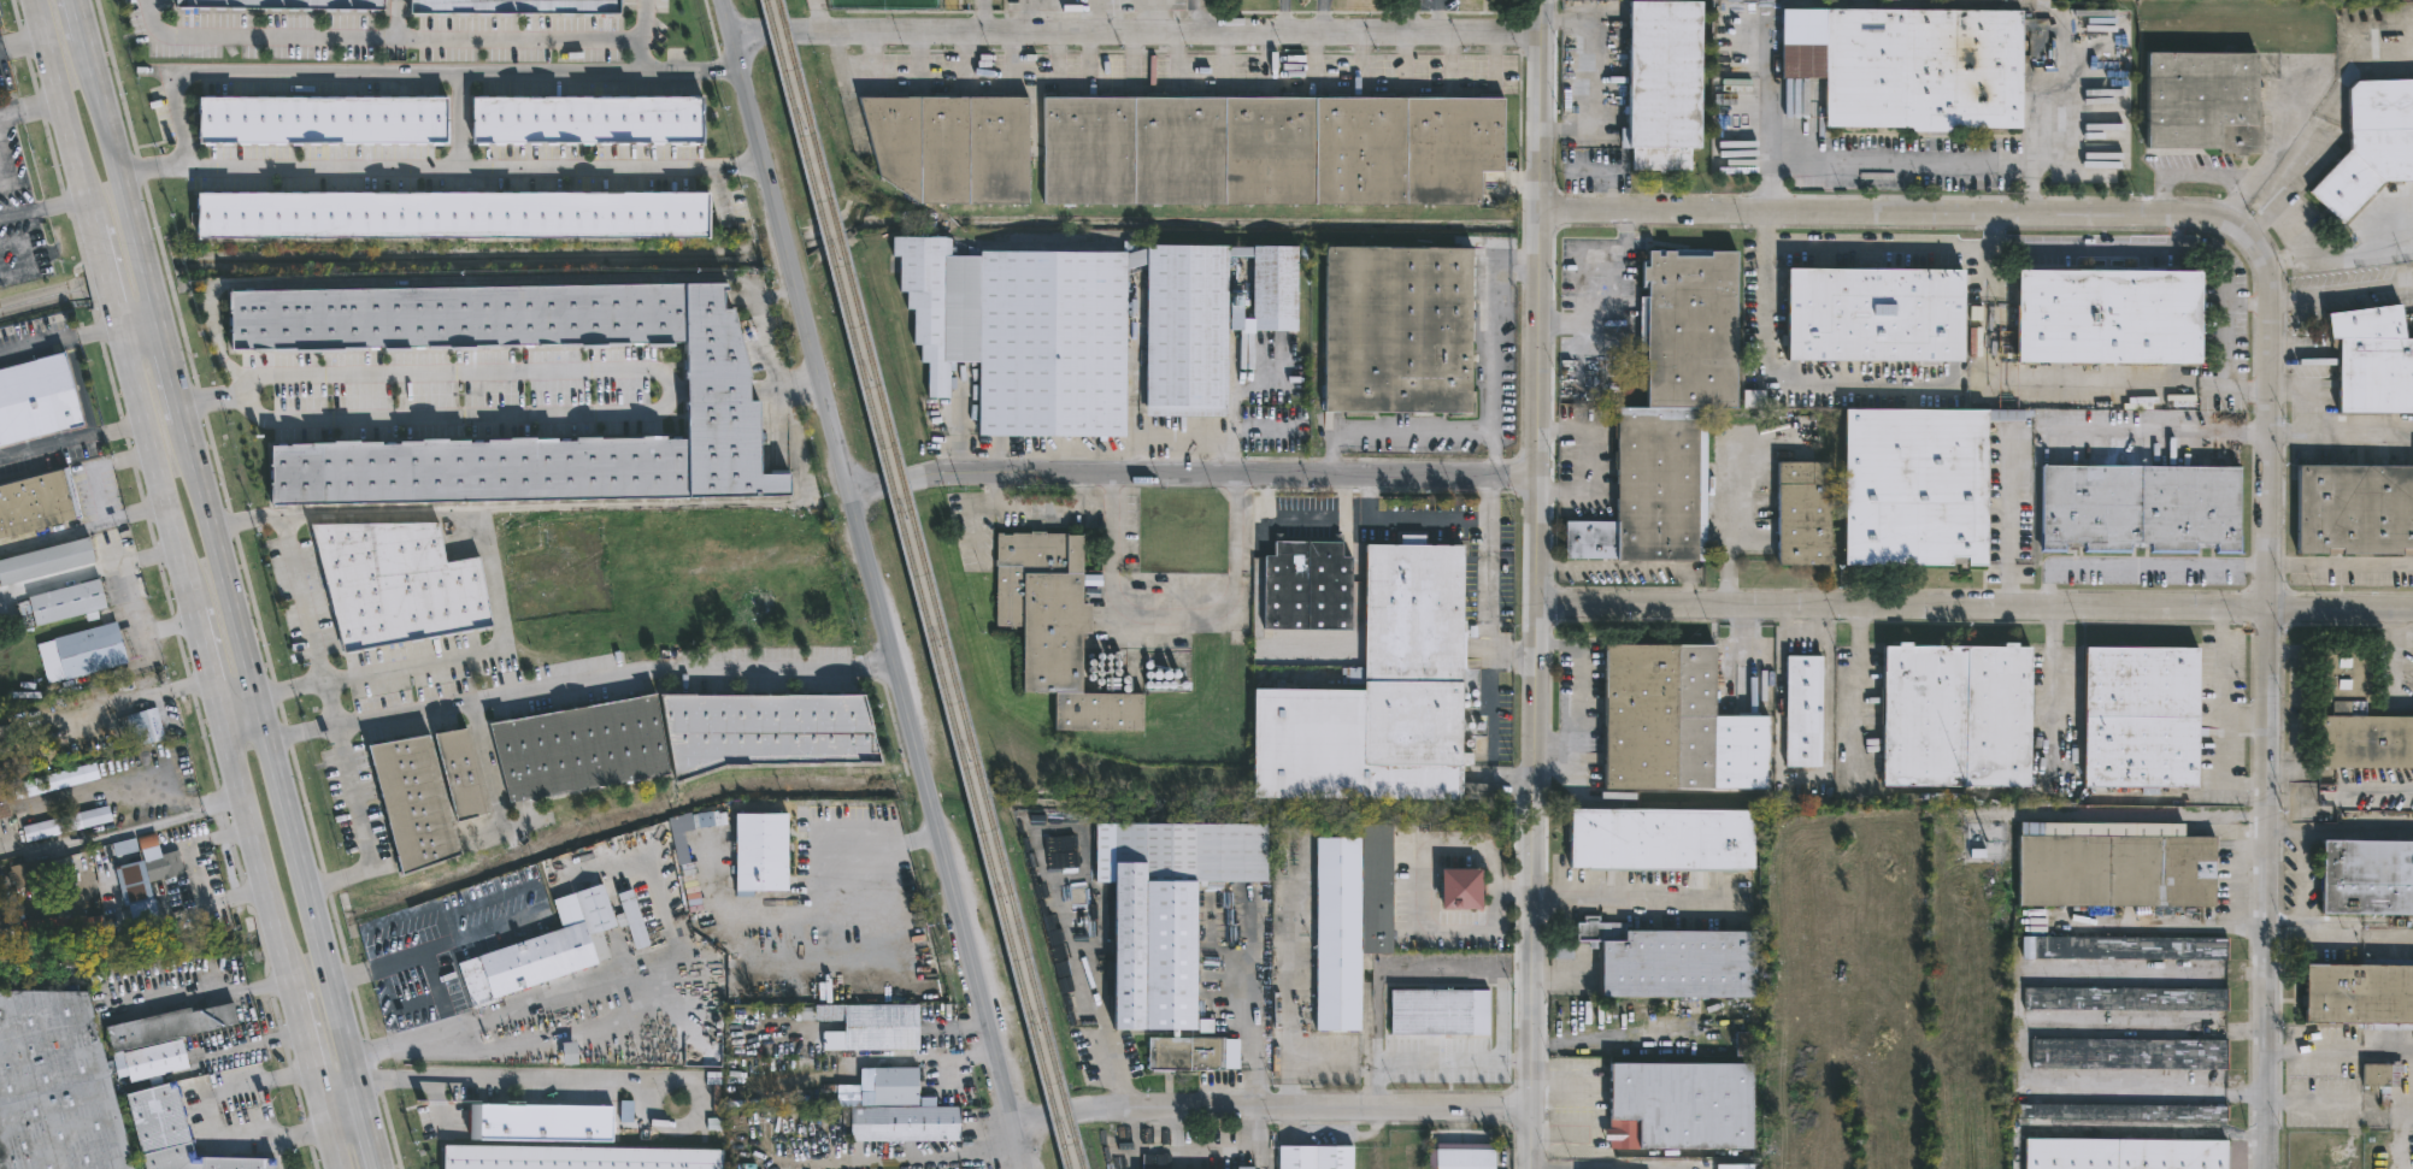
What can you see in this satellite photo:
park: (882, 2)
building: (287, 4)
building: (518, 6)
road: (817, 16)
road: (983, 16)
road: (1201, 17)
road: (1283, 17)
road: (1325, 18)
road: (1408, 18)
road: (1432, 18)
road: (80, 19)
road: (1138, 35)
road: (278, 37)
road: (518, 37)
road: (1132, 55)
road: (918, 57)
road: (1013, 57)
road: (1058, 57)
road: (1175, 57)
road: (1224, 57)
road: (967, 58)
road: (1088, 58)
road: (1266, 58)
road: (1314, 58)
road: (1360, 58)
road: (1405, 58)
road: (1493, 58)
road: (1452, 59)
building: (1912, 70)
road: (359, 72)
road: (689, 72)
road: (858, 83)
building: (1659, 87)
building: (2200, 102)
road: (30, 108)
road: (851, 112)
road: (63, 114)
building: (585, 117)
building: (320, 118)
building: (944, 144)
building: (2370, 144)
building: (1264, 148)
road: (1897, 164)
road: (475, 169)
road: (120, 177)
road: (42, 207)
building: (451, 214)
railway: (1142, 223)
road: (2293, 232)
road: (2101, 247)
road: (1896, 248)
road: (104, 278)
road: (475, 281)
building: (1868, 313)
building: (2105, 314)
road: (2225, 320)
road: (136, 321)
building: (1082, 326)
building: (1393, 329)
road: (1493, 329)
road: (58, 342)
road: (2268, 343)
building: (2372, 360)
road: (170, 367)
road: (458, 372)
road: (1778, 378)
road: (2131, 379)
building: (717, 385)
road: (749, 386)
road: (82, 388)
road: (2309, 395)
road: (211, 398)
building: (39, 400)
building: (1665, 412)
road: (459, 415)
road: (1411, 433)
road: (2341, 436)
road: (70, 441)
road: (1329, 455)
road: (1493, 455)
road: (1591, 464)
road: (152, 467)
road: (1194, 476)
building: (1913, 485)
road: (1078, 491)
road: (101, 496)
road: (1487, 498)
building: (40, 502)
road: (1035, 507)
building: (2138, 508)
building: (2353, 508)
building: (1799, 513)
road: (1728, 520)
road: (2009, 520)
road: (53, 533)
road: (483, 537)
road: (1487, 556)
building: (48, 561)
road: (2342, 562)
road: (1628, 568)
road: (2137, 571)
building: (394, 583)
road: (875, 584)
railway: (918, 584)
railway: (930, 584)
road: (1537, 584)
building: (1303, 586)
road: (300, 596)
building: (71, 602)
road: (1974, 606)
road: (1172, 616)
building: (1052, 631)
road: (200, 648)
building: (93, 651)
road: (1511, 655)
road: (2394, 665)
building: (1108, 672)
building: (1164, 679)
road: (579, 683)
road: (2054, 689)
building: (1373, 695)
road: (1856, 695)
road: (1579, 696)
road: (235, 697)
building: (1801, 712)
building: (1953, 715)
building: (1654, 716)
building: (2138, 718)
road: (2221, 718)
road: (2246, 718)
building: (2355, 718)
building: (146, 725)
building: (676, 738)
building: (7, 739)
road: (272, 755)
road: (488, 767)
road: (348, 773)
road: (1802, 779)
road: (2341, 793)
building: (424, 796)
building: (2, 805)
road: (2225, 817)
road: (120, 834)
building: (1658, 840)
road: (251, 842)
building: (760, 851)
building: (163, 863)
building: (2113, 866)
road: (2236, 869)
building: (30, 873)
road: (192, 874)
building: (2366, 878)
building: (1456, 890)
building: (0, 897)
road: (1418, 901)
road: (1624, 903)
road: (826, 907)
building: (1161, 913)
building: (146, 917)
building: (1346, 920)
road: (2164, 926)
road: (436, 946)
building: (552, 949)
building: (2123, 949)
building: (1667, 962)
road: (1476, 978)
building: (2359, 996)
building: (2124, 999)
building: (1437, 1012)
road: (560, 1026)
building: (866, 1027)
building: (160, 1039)
building: (1746, 1043)
road: (453, 1050)
building: (2126, 1053)
building: (1194, 1055)
road: (307, 1061)
road: (1517, 1062)
road: (926, 1063)
road: (955, 1078)
road: (585, 1079)
building: (2380, 1079)
building: (53, 1087)
building: (891, 1087)
building: (1677, 1106)
road: (341, 1108)
road: (1305, 1110)
building: (2118, 1112)
road: (1057, 1116)
road: (205, 1120)
building: (543, 1123)
road: (1025, 1123)
building: (901, 1124)
road: (367, 1130)
road: (2123, 1130)
building: (170, 1133)
road: (329, 1146)
building: (2123, 1153)
building: (577, 1158)
building: (1311, 1158)
building: (1462, 1159)
building: (1734, 1167)
building: (1240, 1168)

